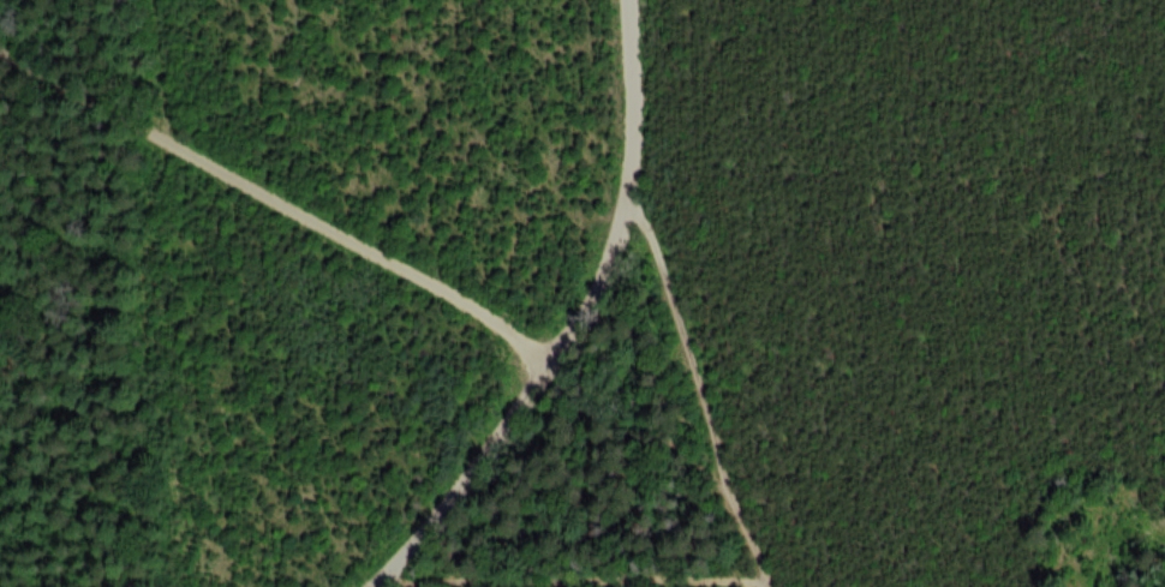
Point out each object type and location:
road: (273, 181)
road: (115, 293)
road: (550, 323)
road: (680, 387)
road: (558, 574)

